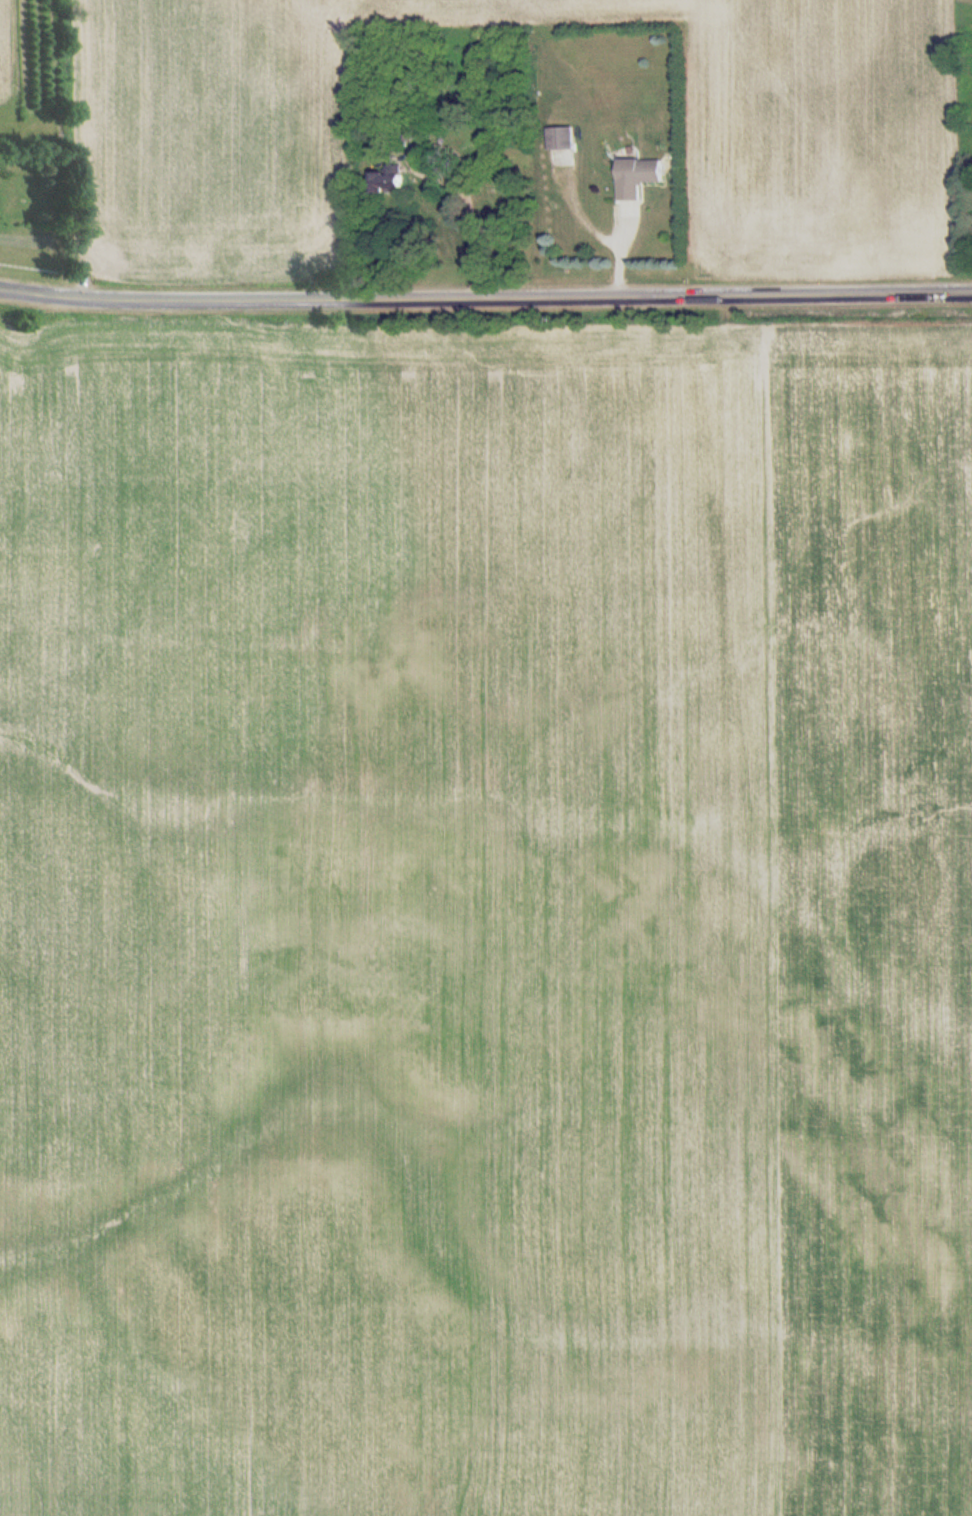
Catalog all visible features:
building: (559, 138)
building: (634, 177)
building: (387, 180)
road: (485, 301)

